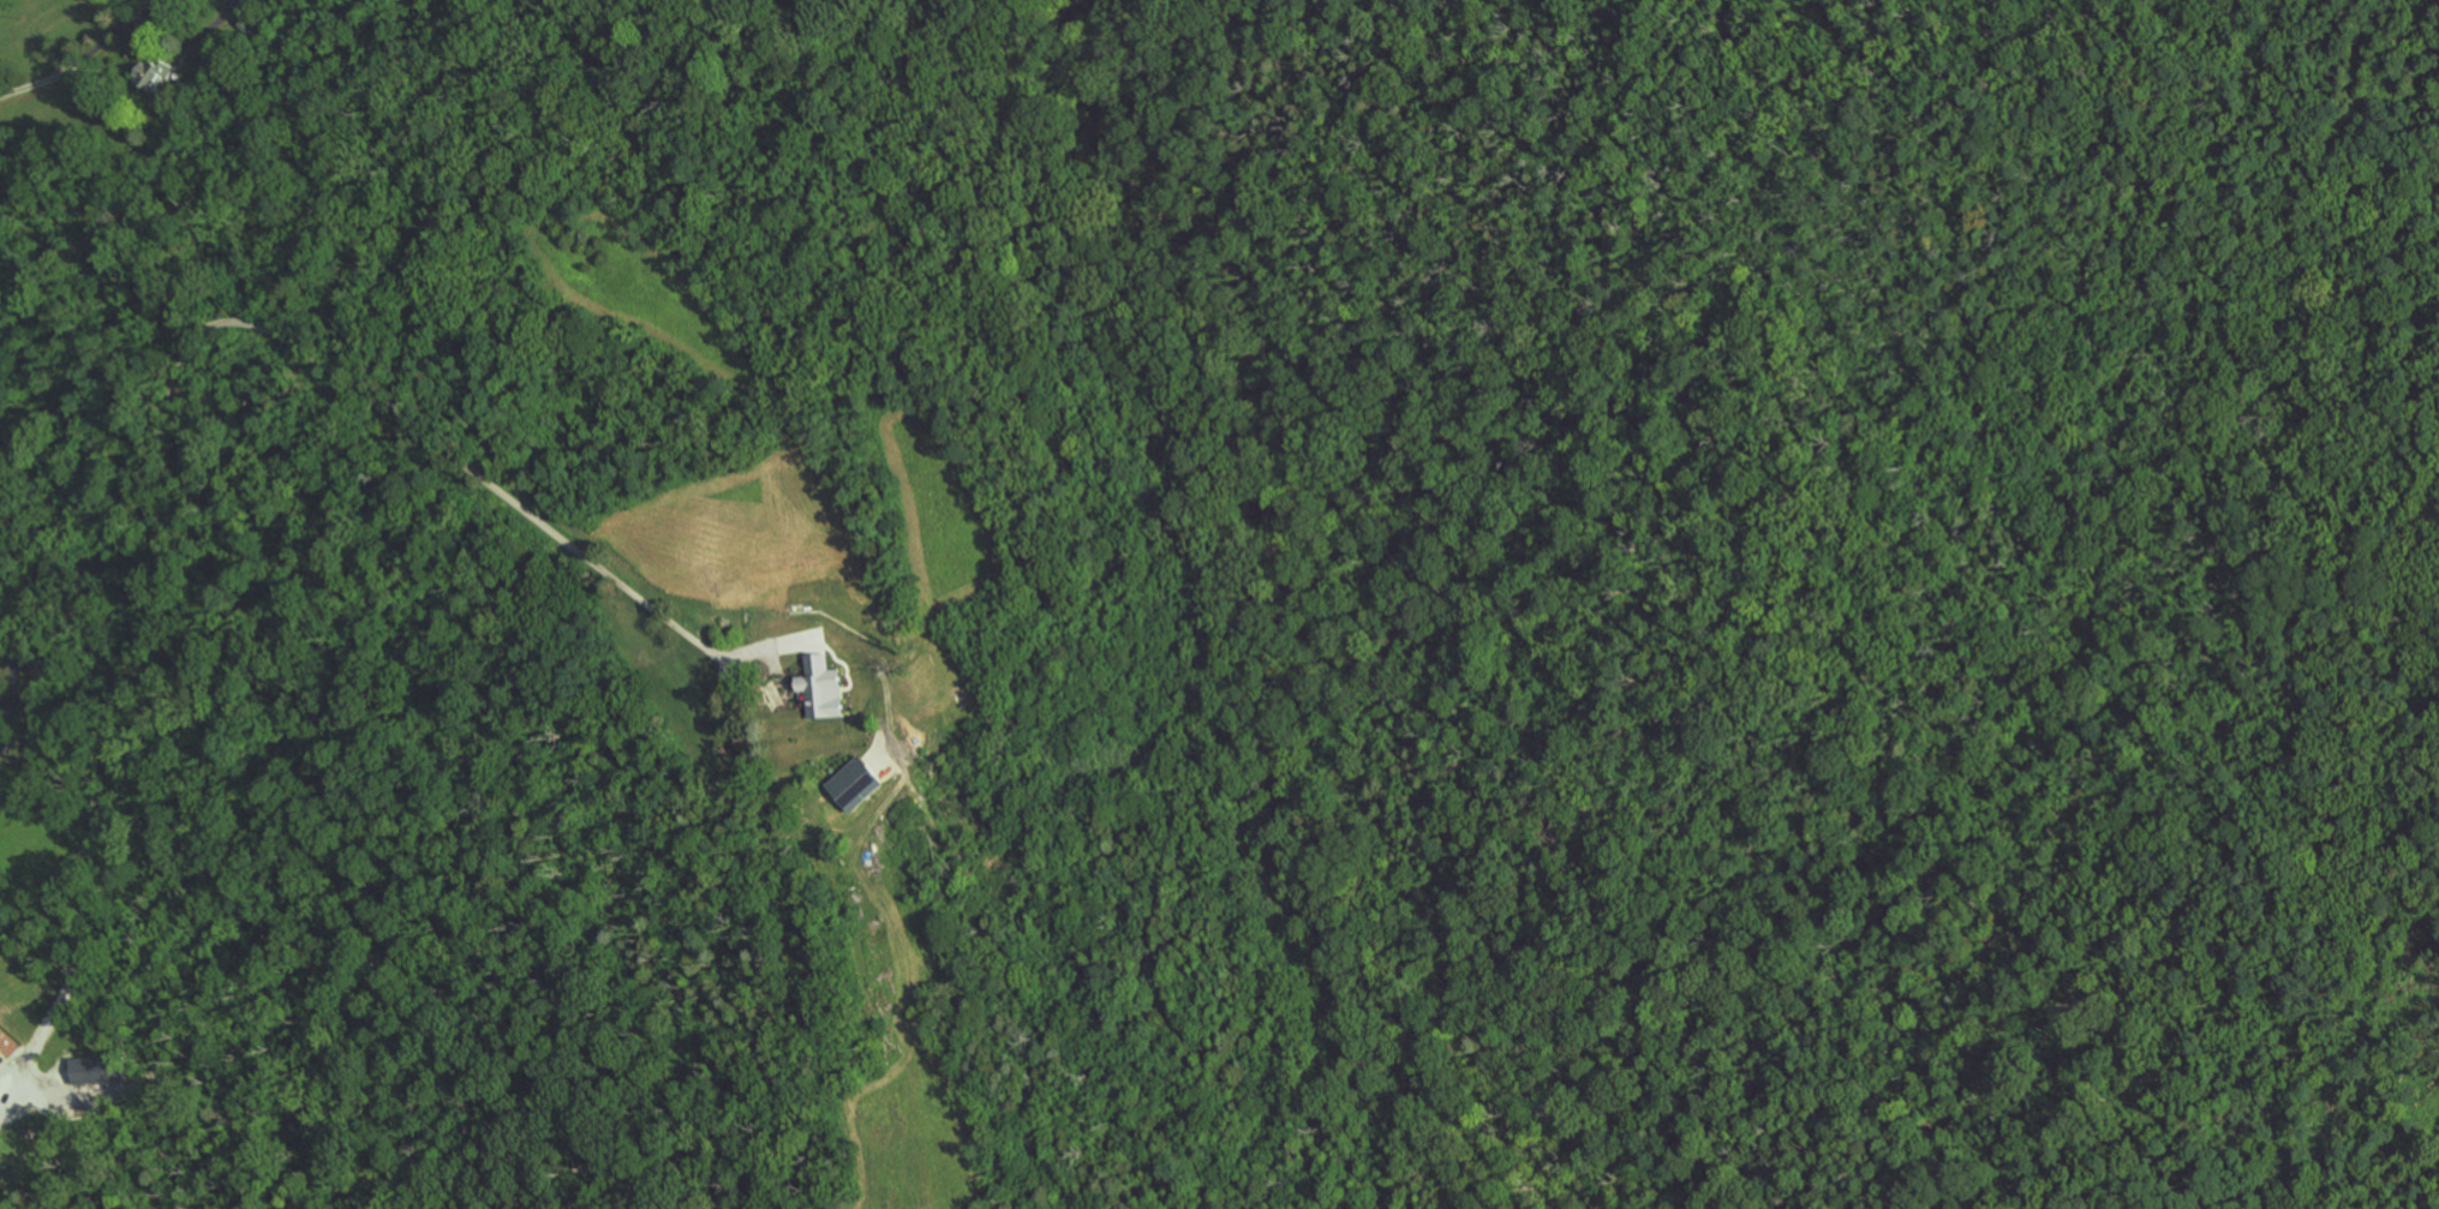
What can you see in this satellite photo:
road: (205, 30)
road: (84, 58)
building: (153, 71)
road: (476, 462)
building: (823, 688)
building: (857, 784)
road: (72, 840)
building: (1, 1057)
building: (97, 1070)

